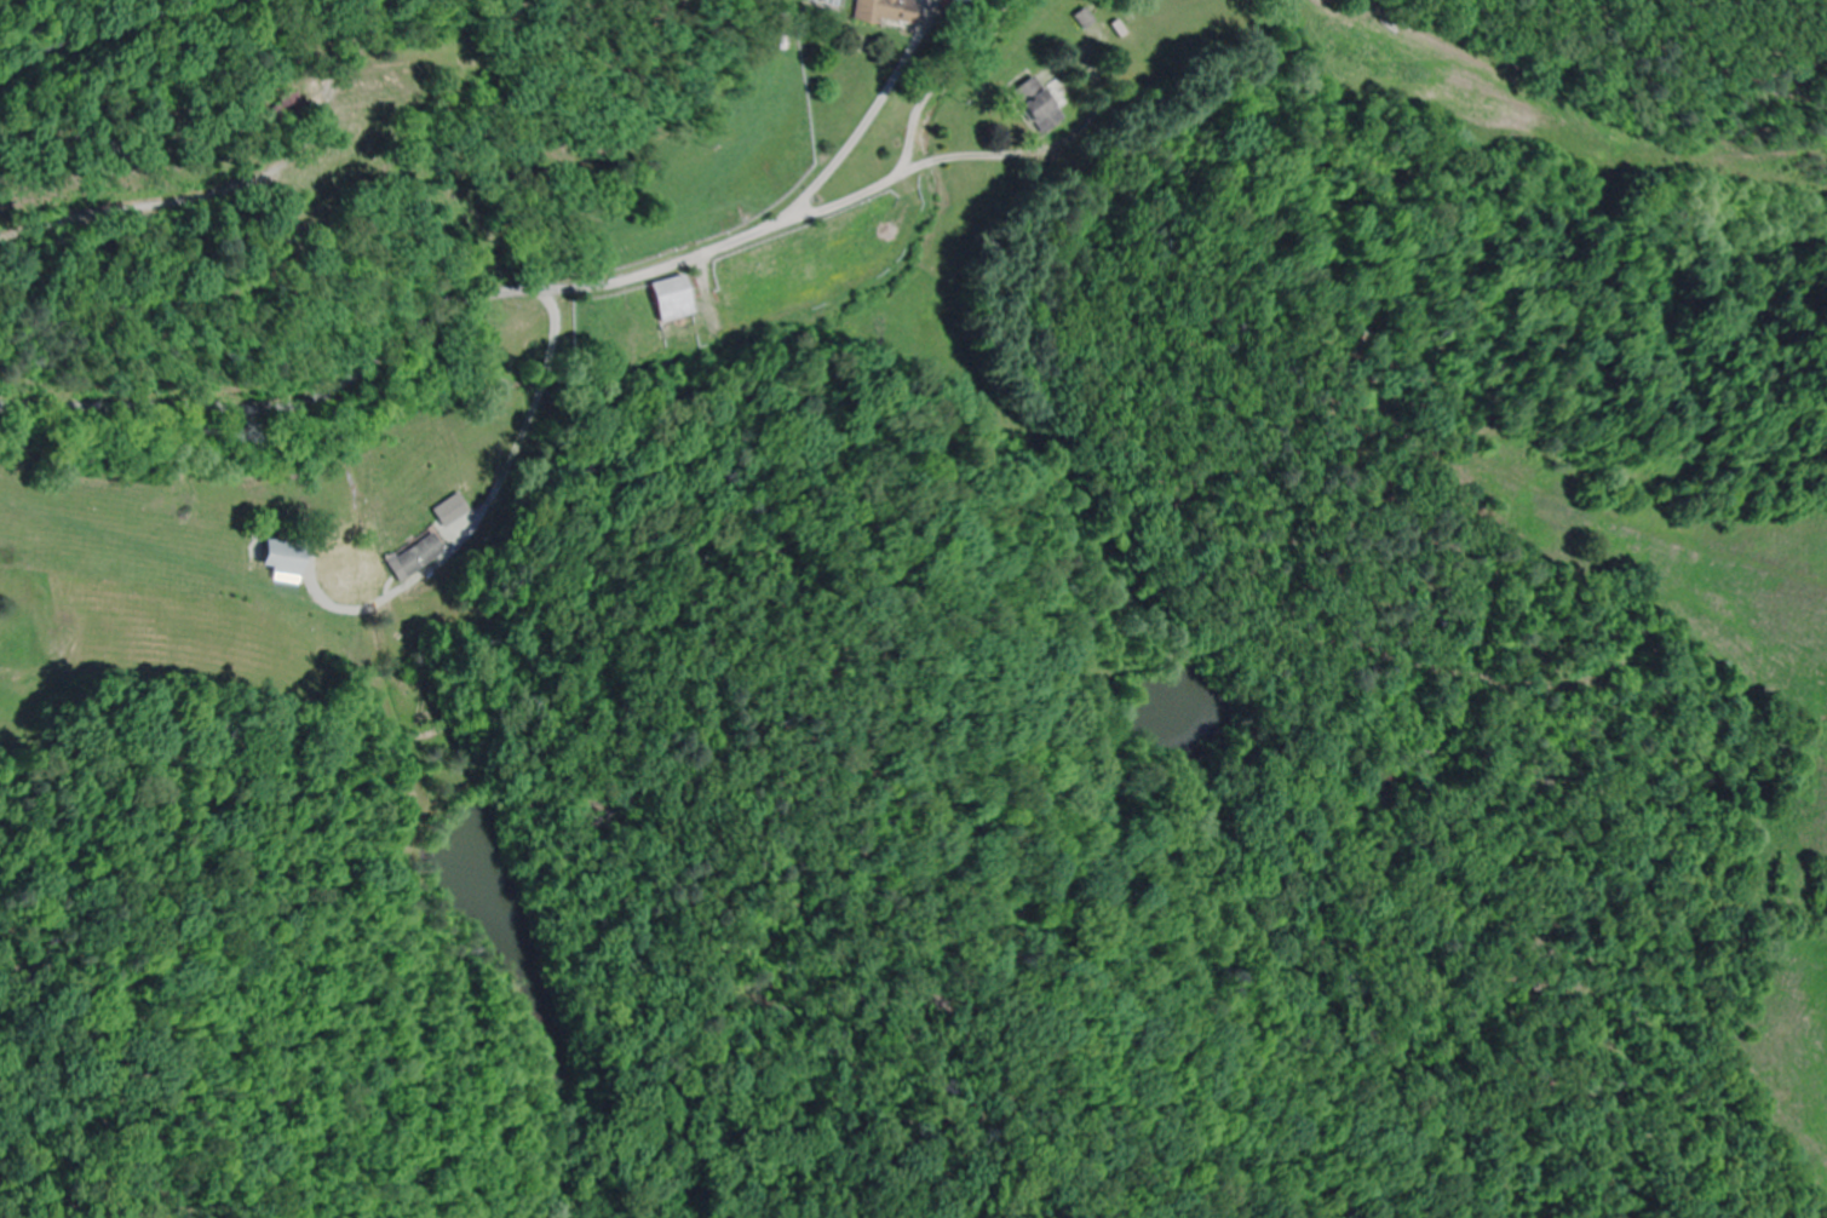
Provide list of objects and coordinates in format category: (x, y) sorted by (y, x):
building: (879, 12)
building: (361, 92)
building: (668, 300)
road: (392, 350)

